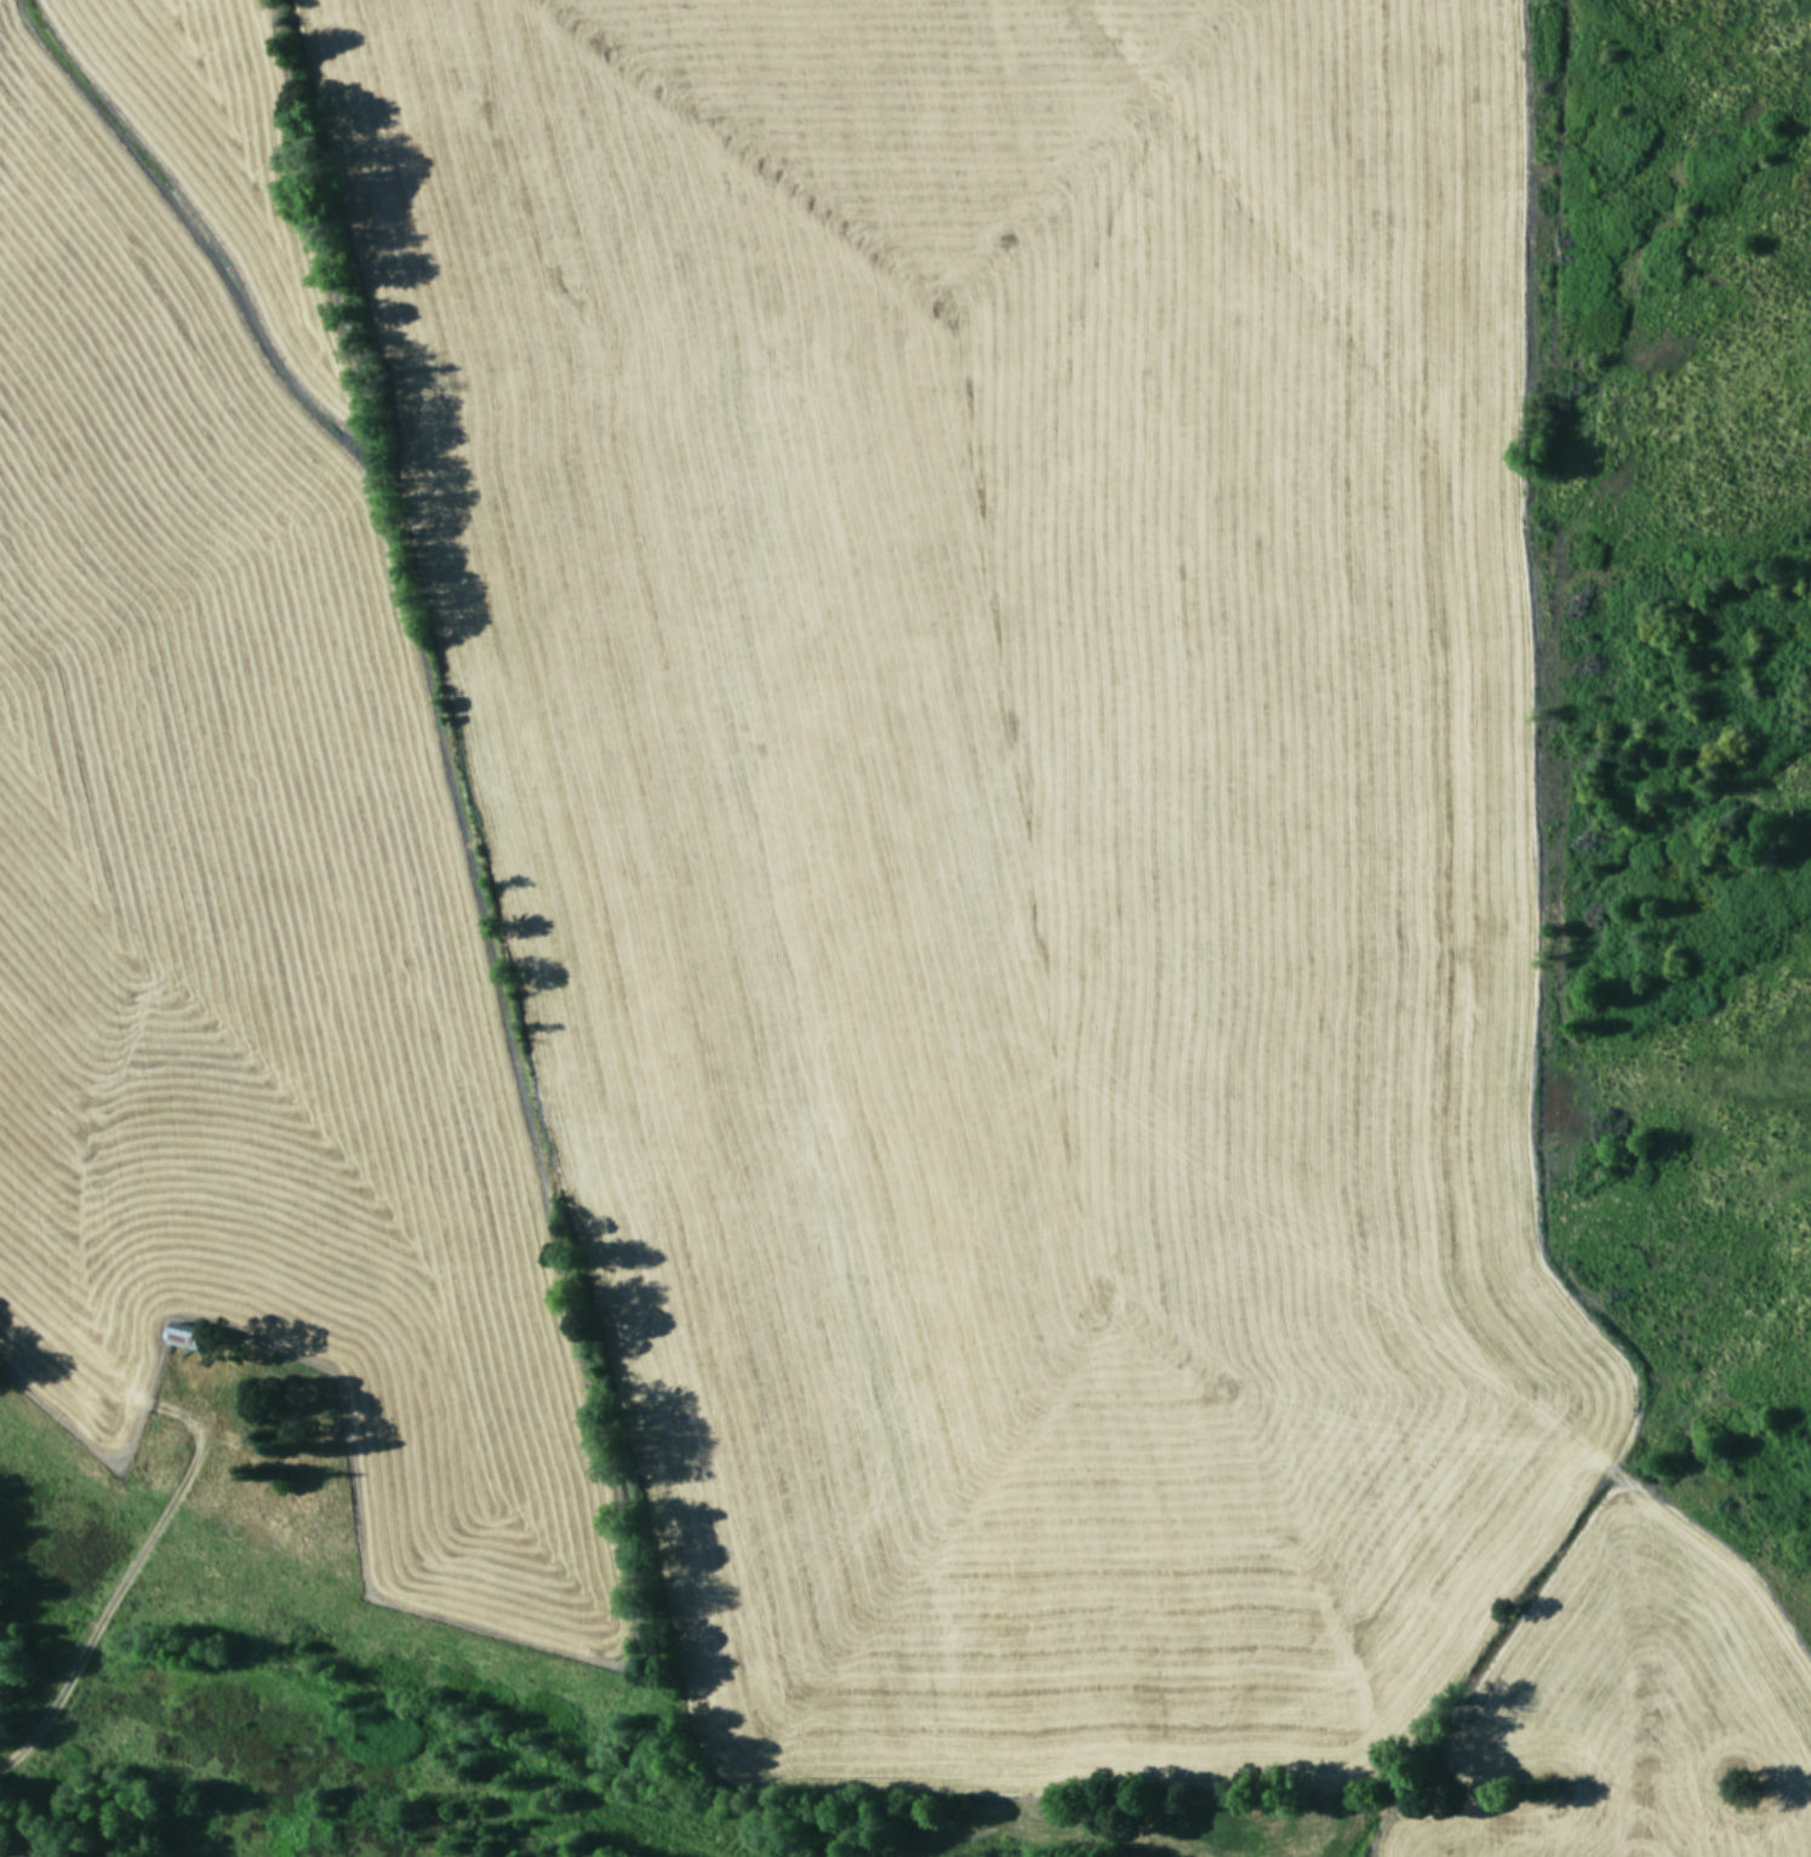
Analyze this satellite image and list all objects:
crop: (801, 954)
building: (183, 1332)

